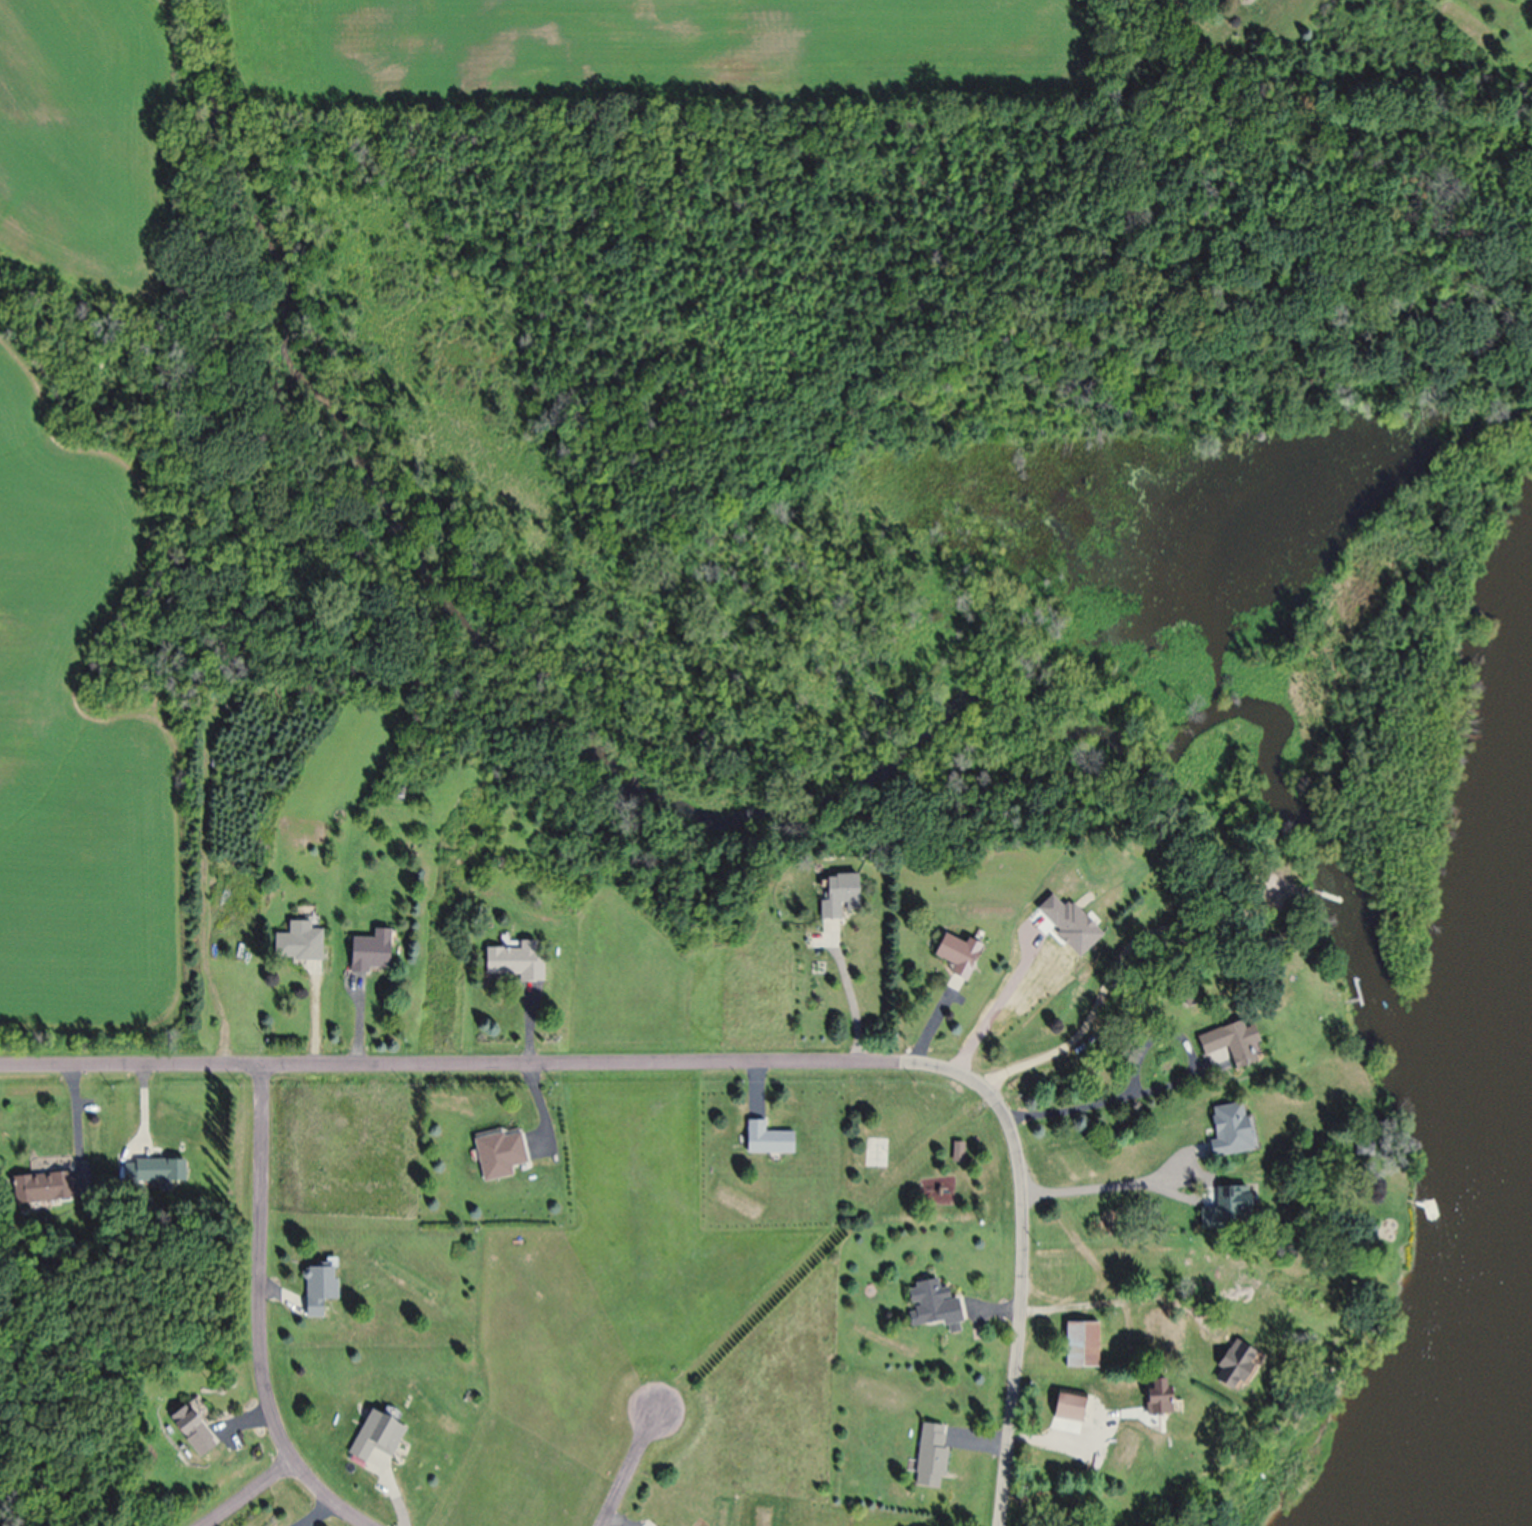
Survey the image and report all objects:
building: (1248, 0)
building: (838, 899)
building: (298, 946)
building: (370, 955)
building: (956, 959)
building: (515, 966)
road: (849, 993)
building: (1229, 1047)
road: (718, 1061)
road: (1166, 1082)
building: (1230, 1132)
building: (767, 1142)
building: (957, 1155)
building: (499, 1158)
building: (153, 1173)
road: (1107, 1180)
building: (41, 1190)
building: (1232, 1204)
building: (318, 1291)
building: (933, 1308)
road: (261, 1310)
building: (1082, 1346)
building: (1232, 1366)
building: (1158, 1399)
building: (1068, 1408)
building: (192, 1433)
road: (1094, 1436)
building: (376, 1437)
building: (930, 1458)
road: (632, 1468)
river: (1503, 1472)
road: (253, 1500)

